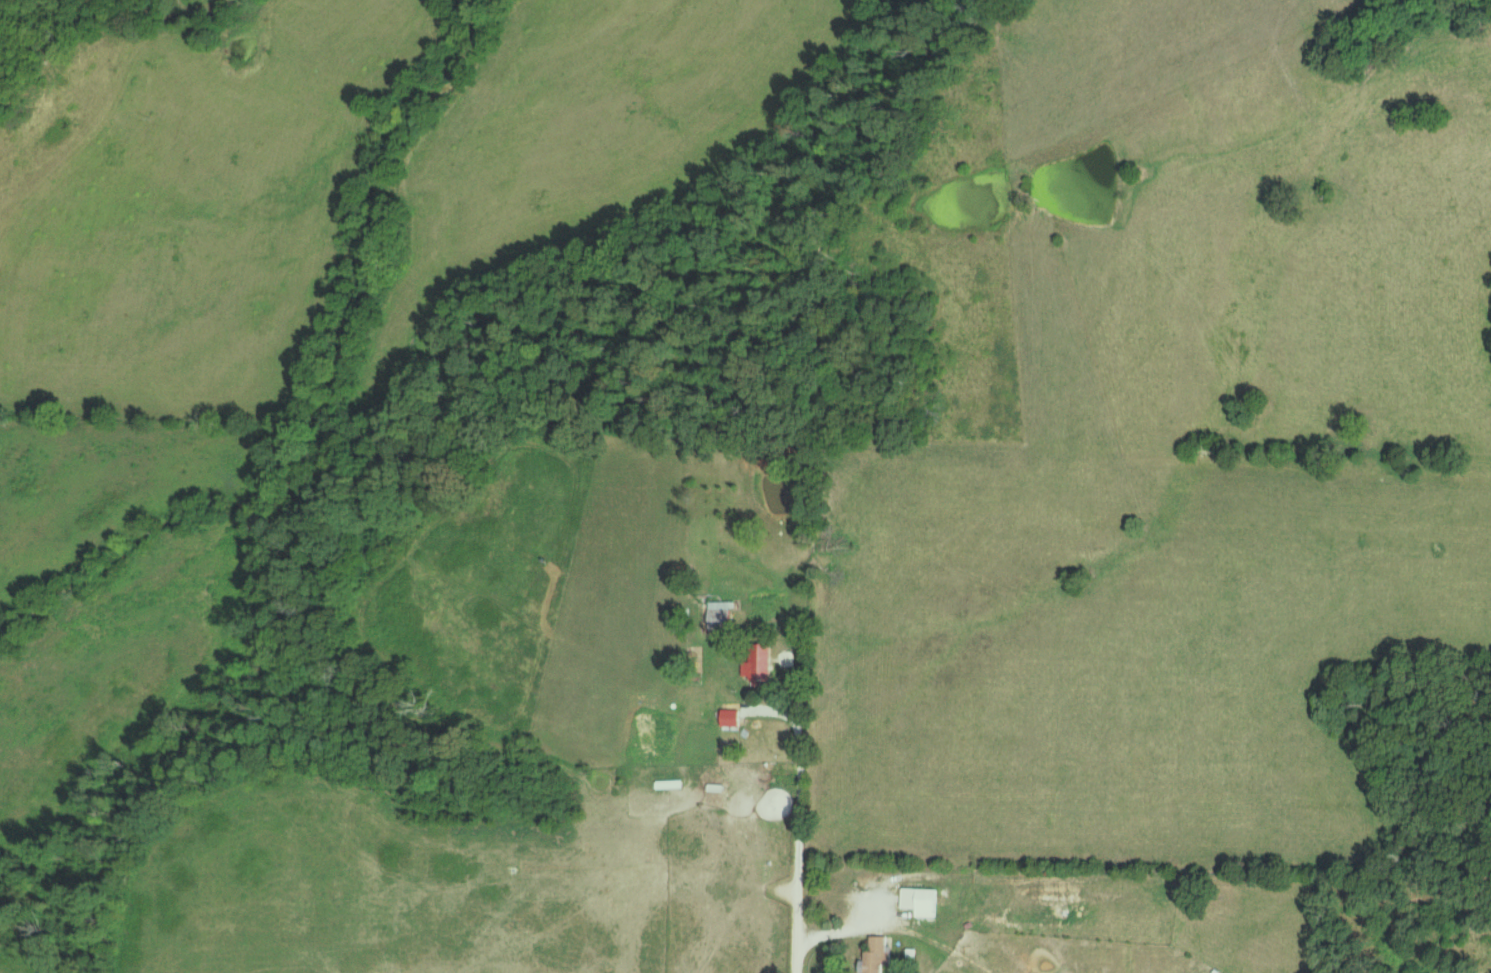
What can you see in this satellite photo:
building: (761, 662)
building: (733, 717)
road: (798, 831)
building: (924, 901)
road: (846, 926)
building: (880, 956)

